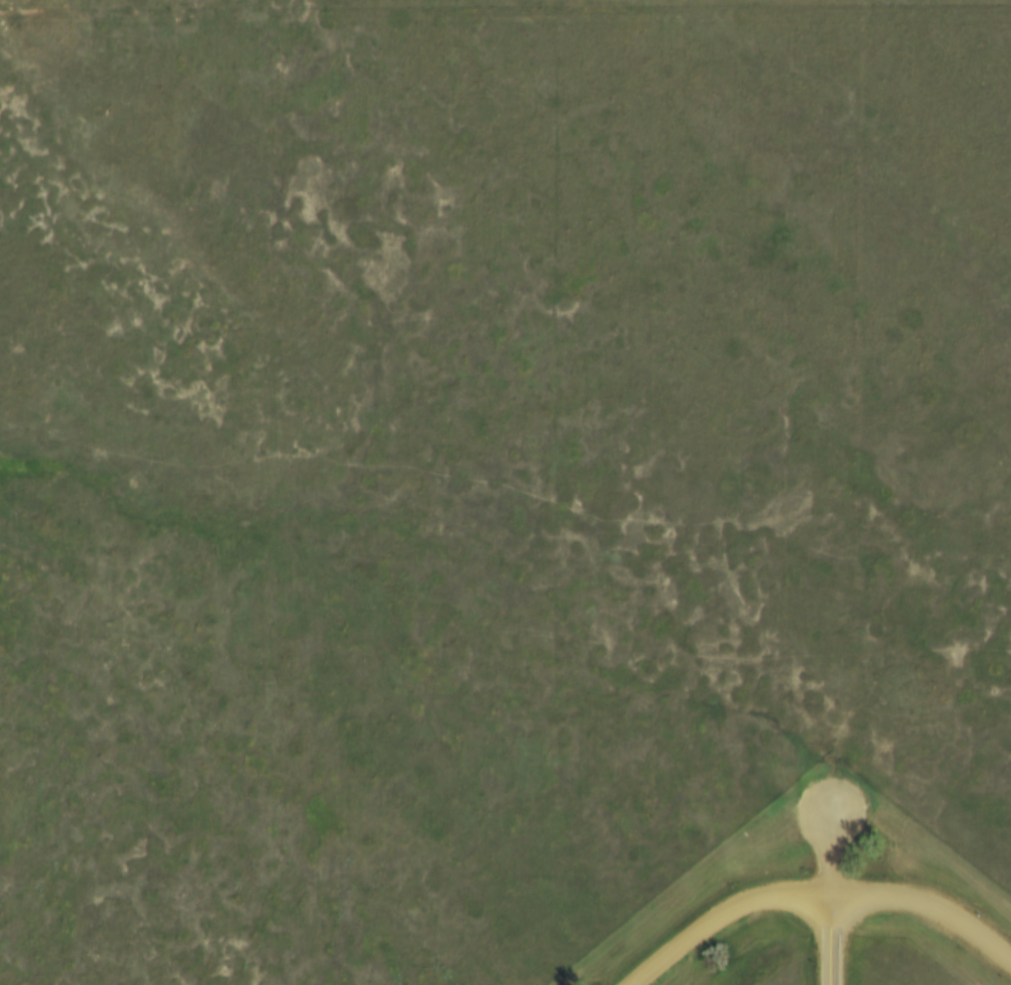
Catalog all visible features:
road: (929, 903)
road: (722, 919)
road: (828, 940)

